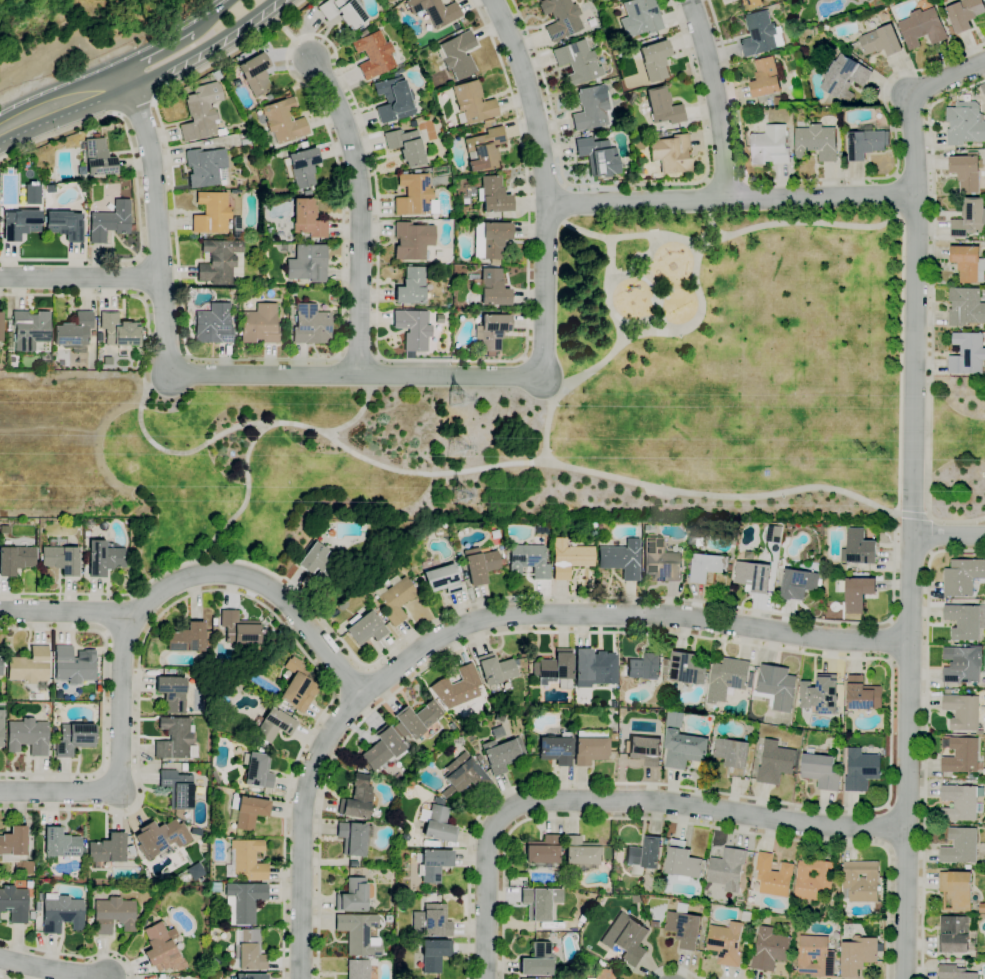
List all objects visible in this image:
building: (611, 0)
building: (828, 0)
building: (794, 3)
building: (750, 4)
building: (343, 11)
building: (435, 11)
road: (207, 13)
building: (964, 14)
building: (640, 17)
building: (560, 18)
building: (922, 28)
road: (286, 30)
building: (951, 30)
building: (758, 34)
building: (650, 39)
building: (880, 41)
road: (152, 46)
road: (205, 49)
building: (373, 54)
building: (457, 55)
building: (654, 60)
building: (577, 62)
building: (255, 73)
building: (766, 78)
building: (844, 78)
building: (236, 83)
road: (715, 98)
building: (393, 99)
building: (630, 99)
road: (529, 100)
building: (776, 101)
building: (471, 103)
road: (64, 105)
road: (137, 107)
building: (662, 107)
building: (590, 108)
building: (200, 111)
building: (247, 116)
building: (282, 121)
building: (412, 123)
building: (488, 123)
building: (964, 124)
building: (661, 129)
building: (657, 135)
building: (244, 142)
building: (816, 142)
building: (865, 142)
building: (303, 144)
building: (405, 146)
building: (770, 146)
building: (483, 149)
building: (671, 153)
building: (841, 154)
building: (597, 156)
building: (98, 157)
building: (205, 167)
building: (301, 167)
building: (635, 172)
building: (967, 172)
road: (525, 173)
road: (725, 179)
road: (830, 179)
road: (631, 185)
road: (137, 189)
building: (306, 192)
building: (413, 194)
building: (492, 195)
road: (896, 196)
road: (730, 198)
road: (359, 212)
building: (211, 213)
road: (712, 218)
building: (306, 219)
building: (969, 219)
building: (110, 222)
road: (811, 222)
building: (20, 224)
road: (157, 224)
building: (236, 224)
building: (64, 225)
road: (575, 229)
road: (342, 230)
building: (412, 240)
building: (490, 240)
road: (610, 243)
building: (218, 262)
building: (307, 263)
building: (968, 264)
building: (244, 275)
road: (81, 276)
building: (410, 287)
building: (490, 287)
road: (117, 298)
building: (447, 305)
building: (965, 307)
road: (931, 309)
building: (259, 324)
building: (213, 325)
building: (310, 325)
building: (0, 326)
building: (30, 329)
building: (413, 329)
building: (74, 330)
building: (118, 331)
building: (491, 332)
building: (143, 334)
building: (967, 354)
road: (524, 358)
building: (12, 360)
building: (45, 362)
building: (3, 364)
road: (442, 376)
road: (541, 376)
power tower: (464, 395)
park: (570, 404)
road: (355, 414)
power tower: (457, 448)
park: (954, 450)
road: (475, 470)
power tower: (461, 497)
road: (912, 497)
road: (244, 504)
road: (912, 515)
building: (592, 524)
building: (88, 526)
building: (599, 526)
building: (441, 528)
building: (374, 530)
building: (542, 530)
building: (494, 534)
building: (773, 535)
road: (931, 536)
road: (947, 537)
building: (685, 540)
building: (695, 542)
building: (860, 548)
building: (842, 555)
building: (458, 556)
building: (104, 558)
building: (569, 558)
building: (15, 559)
building: (60, 559)
building: (621, 559)
building: (317, 560)
building: (528, 560)
building: (660, 562)
building: (480, 564)
building: (708, 568)
building: (843, 568)
building: (753, 577)
building: (962, 577)
road: (181, 579)
building: (442, 579)
building: (798, 584)
building: (463, 585)
building: (415, 586)
building: (858, 594)
road: (244, 595)
building: (394, 598)
road: (612, 598)
building: (341, 605)
road: (68, 611)
building: (213, 621)
road: (474, 621)
building: (963, 622)
building: (238, 628)
building: (364, 628)
building: (214, 629)
building: (188, 638)
road: (889, 642)
road: (841, 657)
building: (1, 665)
building: (74, 665)
building: (961, 665)
building: (30, 668)
building: (522, 668)
building: (593, 668)
building: (644, 668)
building: (665, 668)
building: (495, 669)
building: (686, 669)
building: (173, 670)
building: (554, 670)
building: (286, 673)
building: (726, 679)
building: (750, 680)
road: (351, 682)
building: (456, 687)
building: (776, 687)
building: (297, 692)
building: (172, 693)
building: (861, 694)
road: (337, 695)
building: (820, 695)
building: (40, 696)
building: (44, 696)
road: (103, 700)
building: (474, 703)
building: (45, 707)
building: (285, 707)
building: (194, 711)
building: (962, 712)
building: (56, 716)
building: (498, 717)
building: (417, 718)
building: (674, 721)
building: (272, 726)
building: (1, 728)
building: (27, 736)
building: (612, 737)
building: (747, 737)
building: (73, 738)
road: (925, 738)
building: (175, 739)
building: (589, 747)
building: (383, 749)
building: (556, 749)
building: (684, 749)
building: (260, 750)
building: (530, 750)
building: (645, 750)
building: (498, 755)
building: (732, 755)
building: (961, 756)
building: (478, 757)
building: (774, 763)
building: (183, 767)
building: (861, 770)
building: (257, 771)
building: (820, 771)
building: (462, 776)
building: (975, 777)
building: (177, 789)
road: (59, 790)
building: (356, 799)
road: (619, 801)
building: (958, 803)
building: (246, 812)
building: (436, 822)
road: (688, 824)
road: (885, 826)
building: (193, 829)
building: (160, 837)
building: (353, 837)
building: (404, 837)
building: (60, 843)
building: (430, 843)
building: (960, 846)
building: (15, 847)
building: (84, 849)
building: (107, 849)
building: (132, 850)
building: (541, 850)
building: (580, 854)
building: (644, 854)
building: (245, 860)
building: (353, 863)
building: (681, 863)
building: (434, 864)
building: (968, 867)
building: (636, 870)
building: (727, 870)
building: (168, 874)
building: (773, 876)
building: (813, 879)
building: (862, 883)
building: (215, 889)
building: (955, 891)
building: (352, 895)
building: (243, 901)
building: (33, 902)
building: (540, 902)
building: (14, 903)
building: (37, 903)
building: (982, 908)
building: (61, 913)
building: (31, 914)
building: (113, 914)
building: (746, 917)
building: (580, 919)
building: (89, 921)
building: (386, 921)
building: (436, 921)
building: (684, 928)
building: (357, 933)
building: (956, 934)
building: (545, 936)
building: (626, 938)
building: (747, 942)
building: (726, 944)
building: (162, 949)
building: (769, 950)
building: (250, 951)
road: (73, 955)
building: (432, 955)
building: (858, 955)
building: (608, 957)
building: (815, 957)
building: (537, 960)
building: (600, 962)
road: (53, 967)
road: (675, 967)
building: (230, 969)
building: (357, 969)
building: (954, 972)
building: (602, 974)
building: (160, 976)
building: (250, 976)
road: (6, 977)
building: (173, 978)
building: (526, 978)

